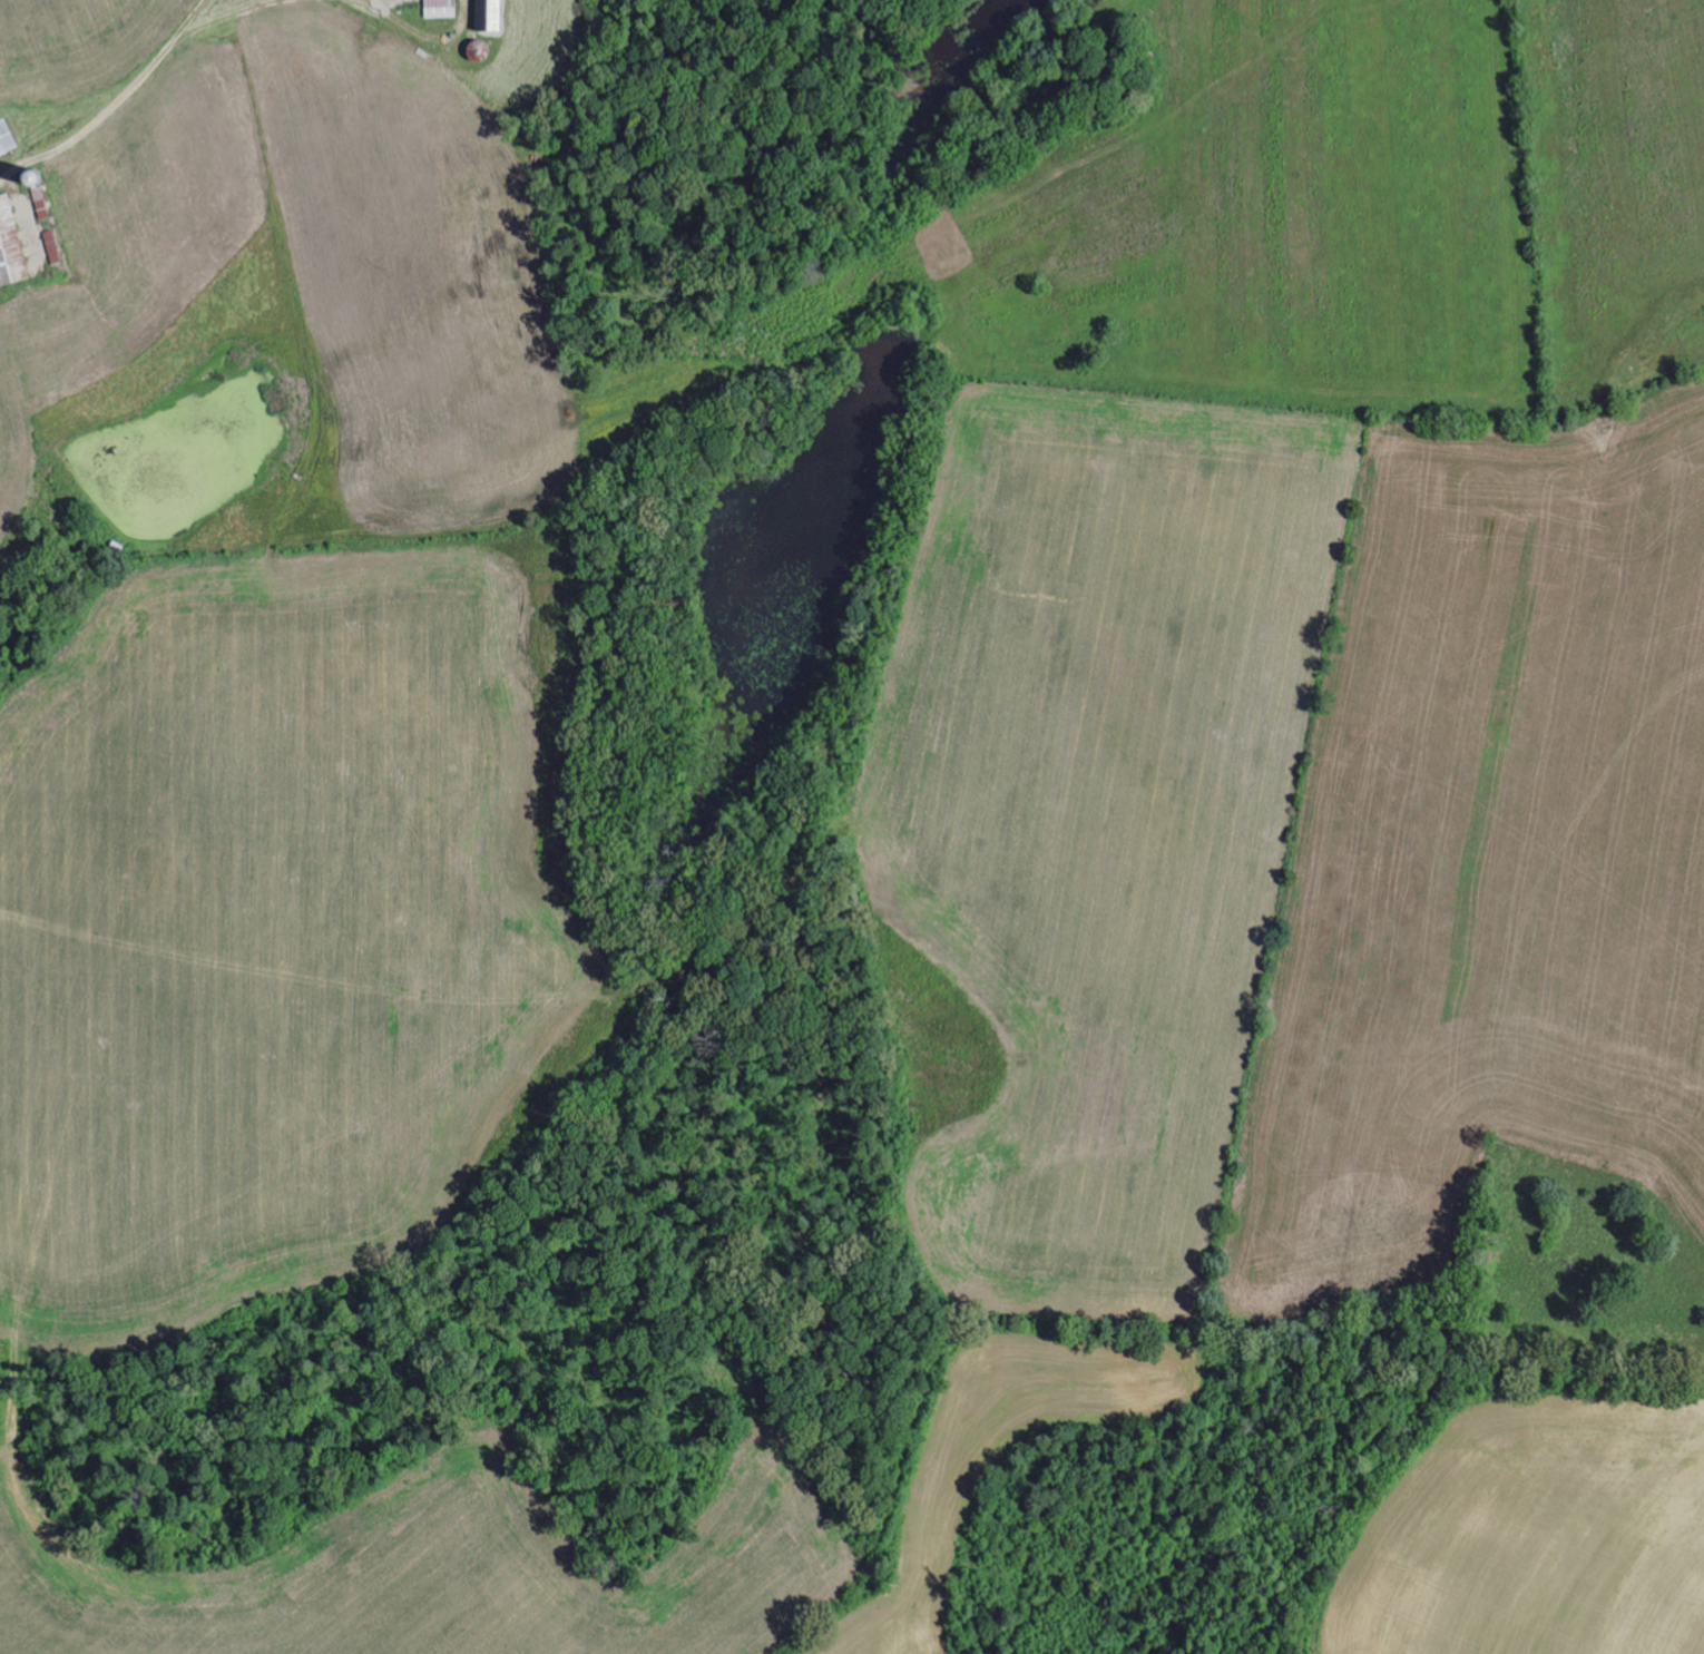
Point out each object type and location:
building: (441, 8)
building: (11, 244)

